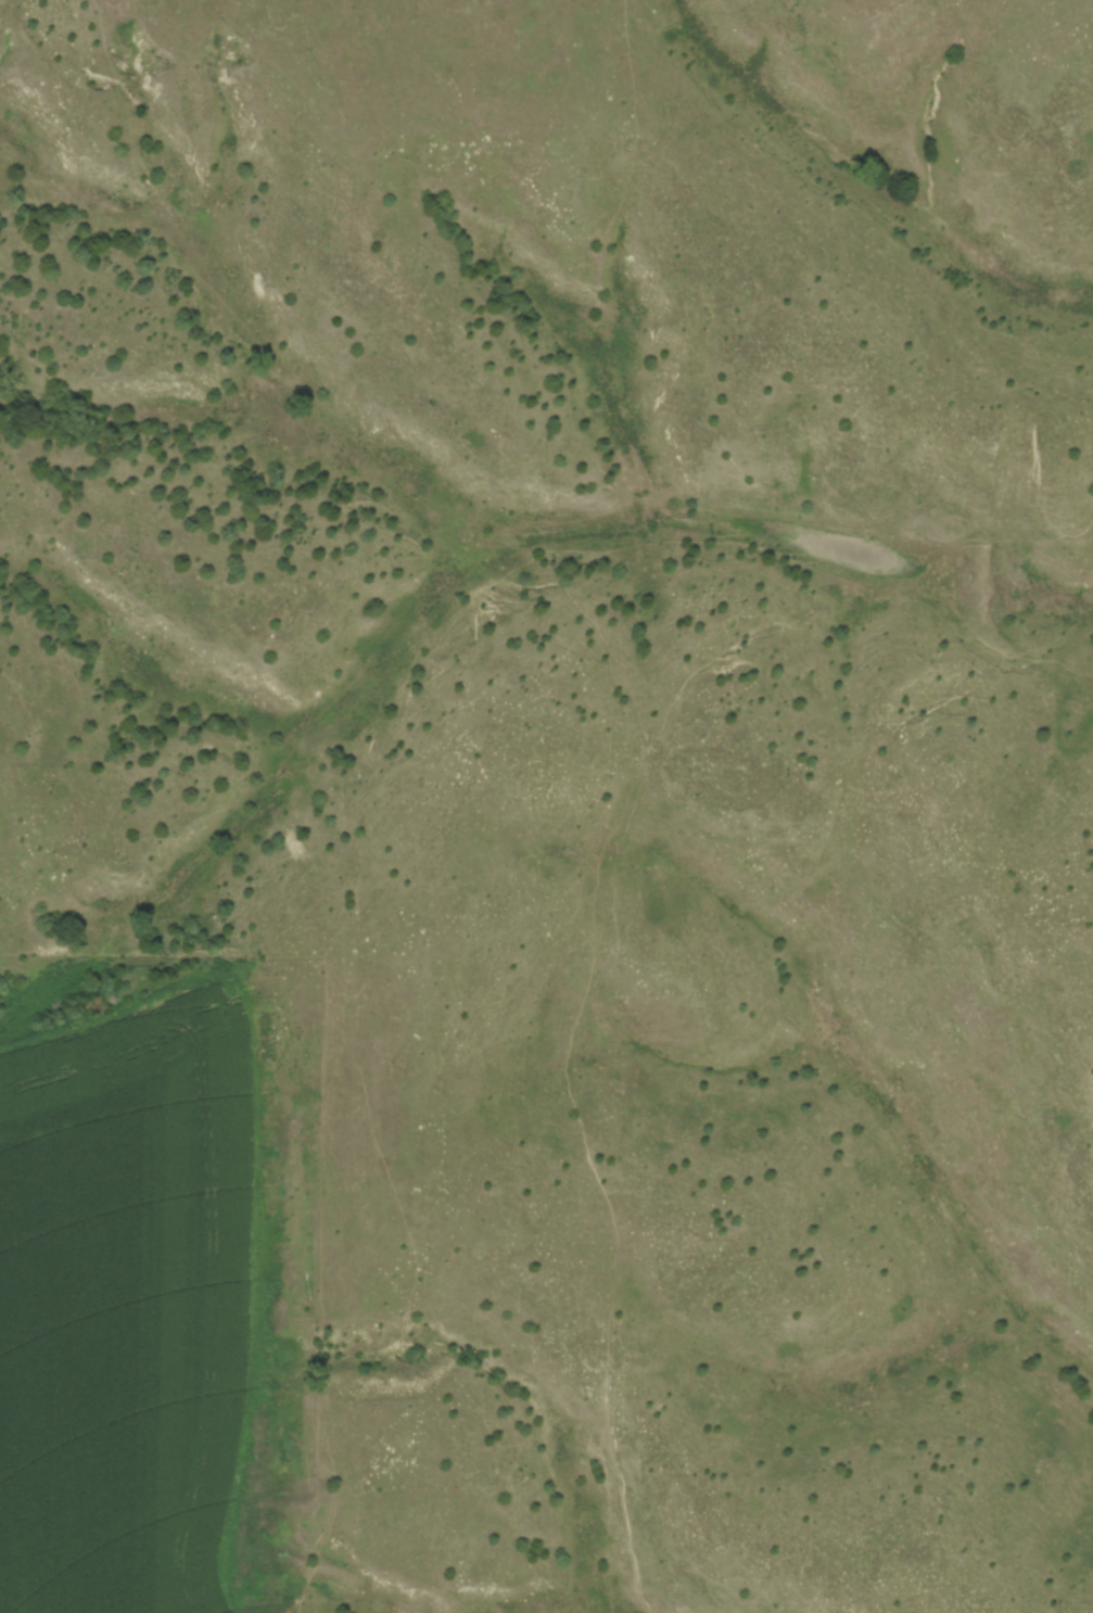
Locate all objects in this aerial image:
crop: (135, 1301)

